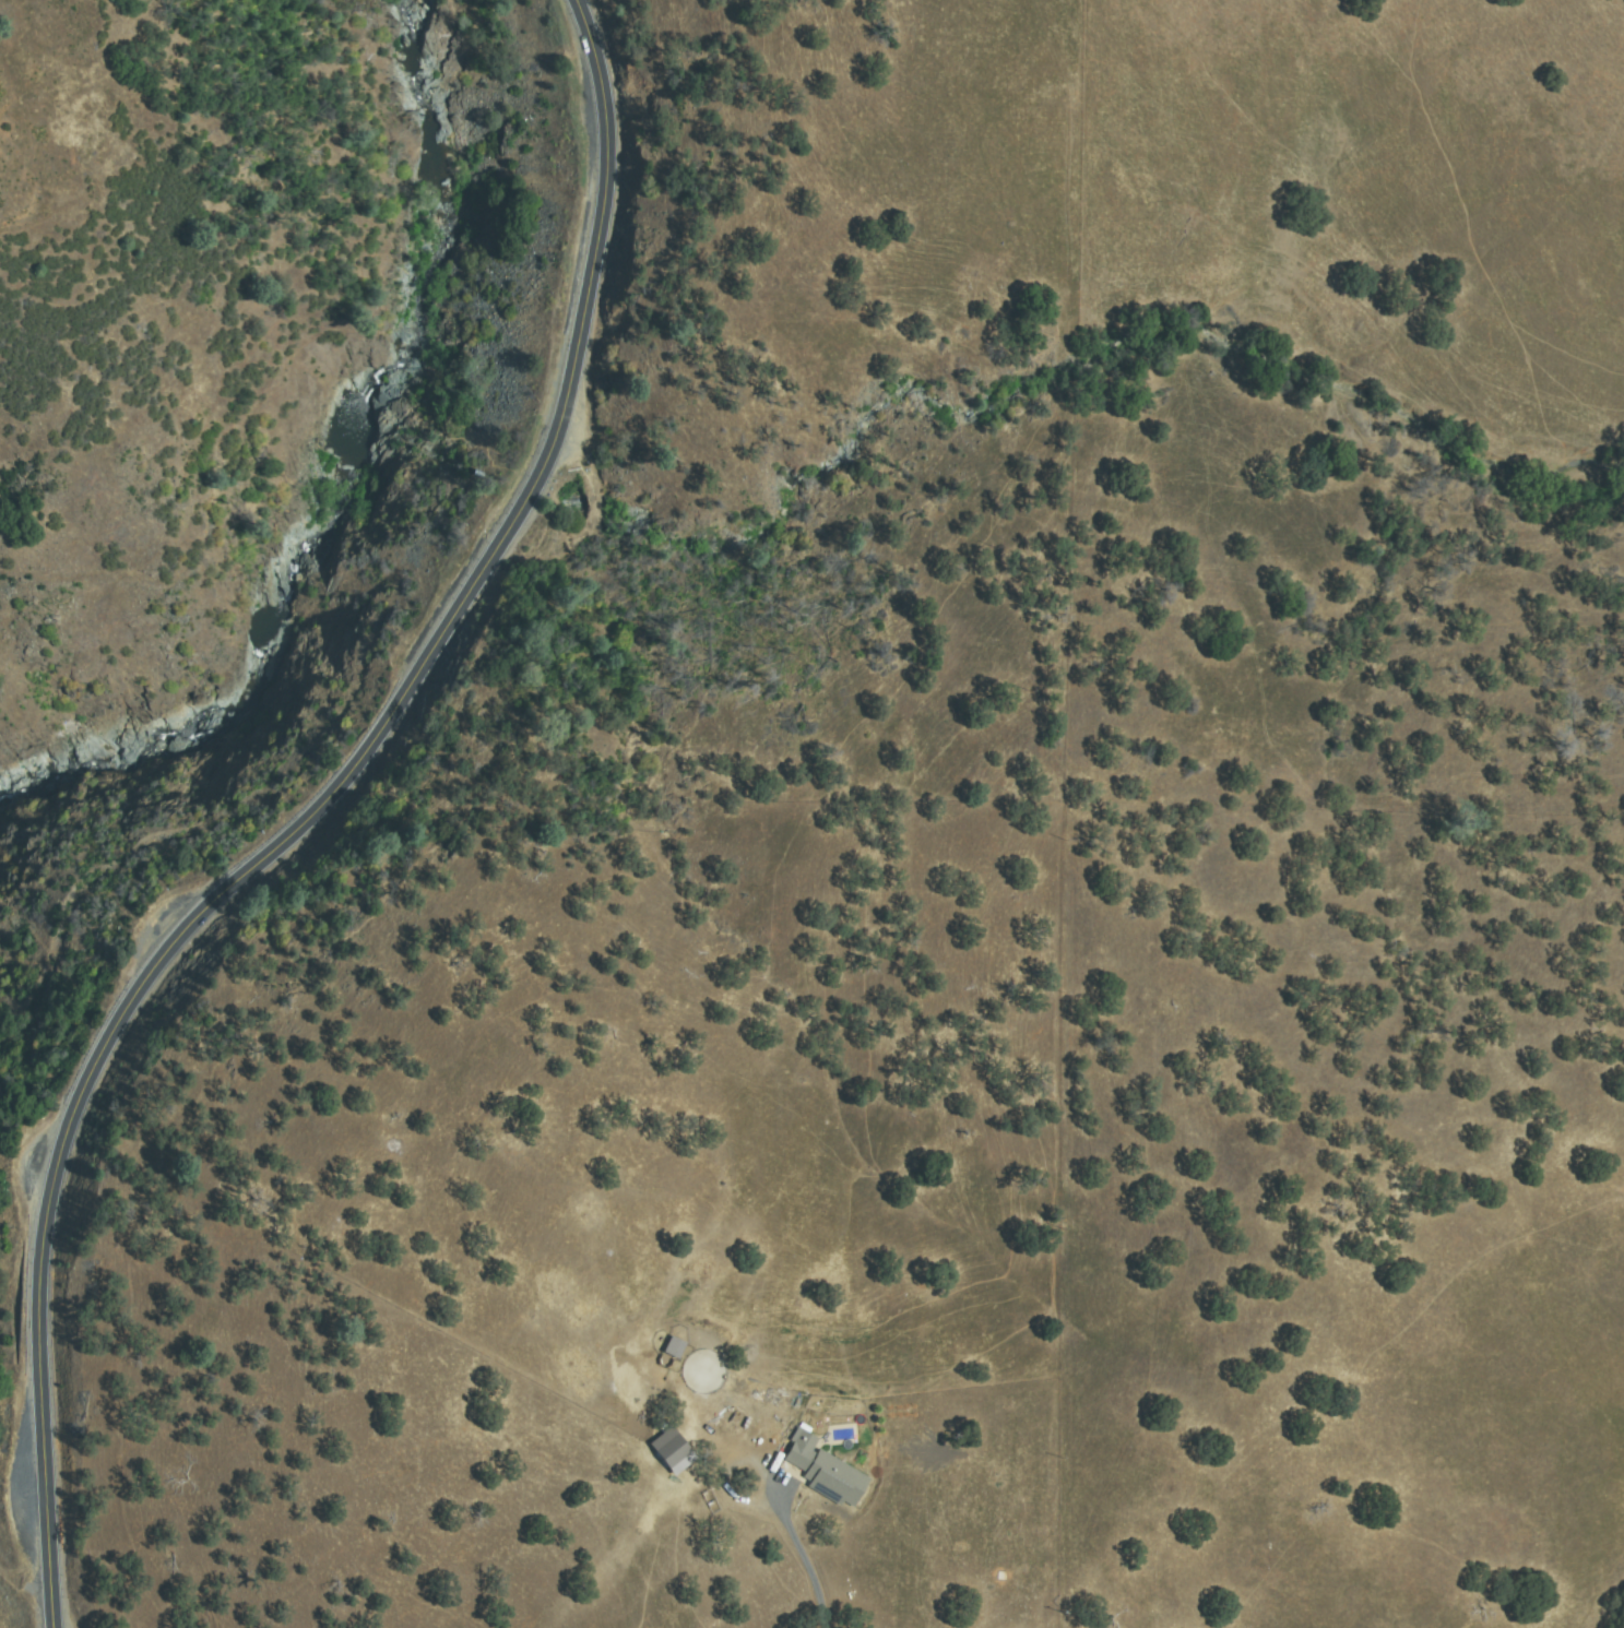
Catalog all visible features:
road: (305, 815)
building: (826, 1473)

